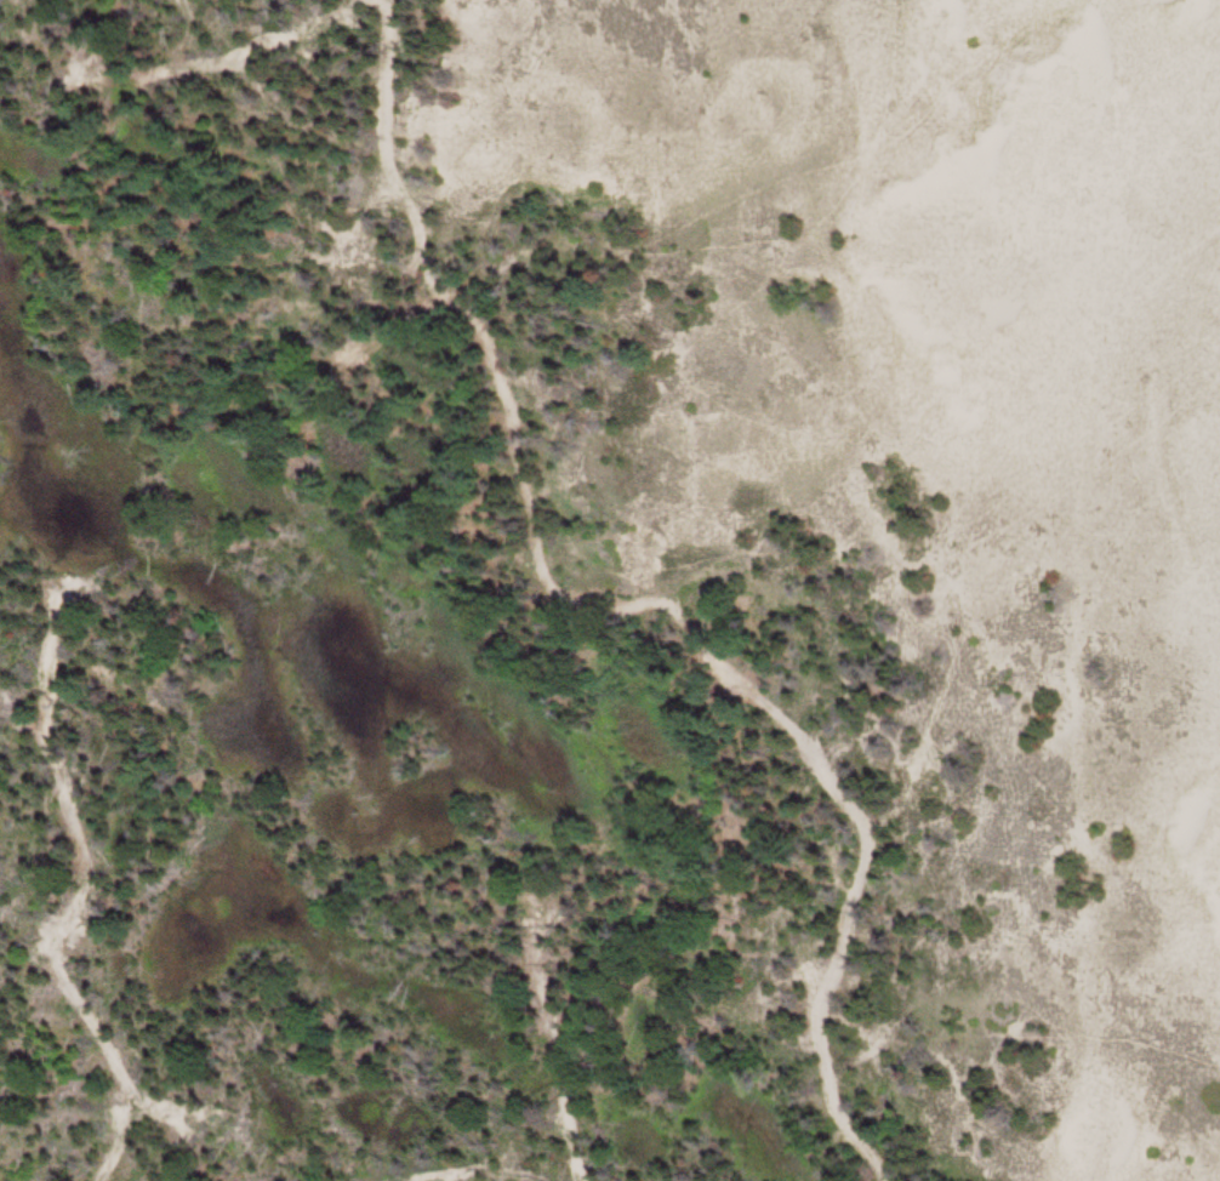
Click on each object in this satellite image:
park: (610, 590)

